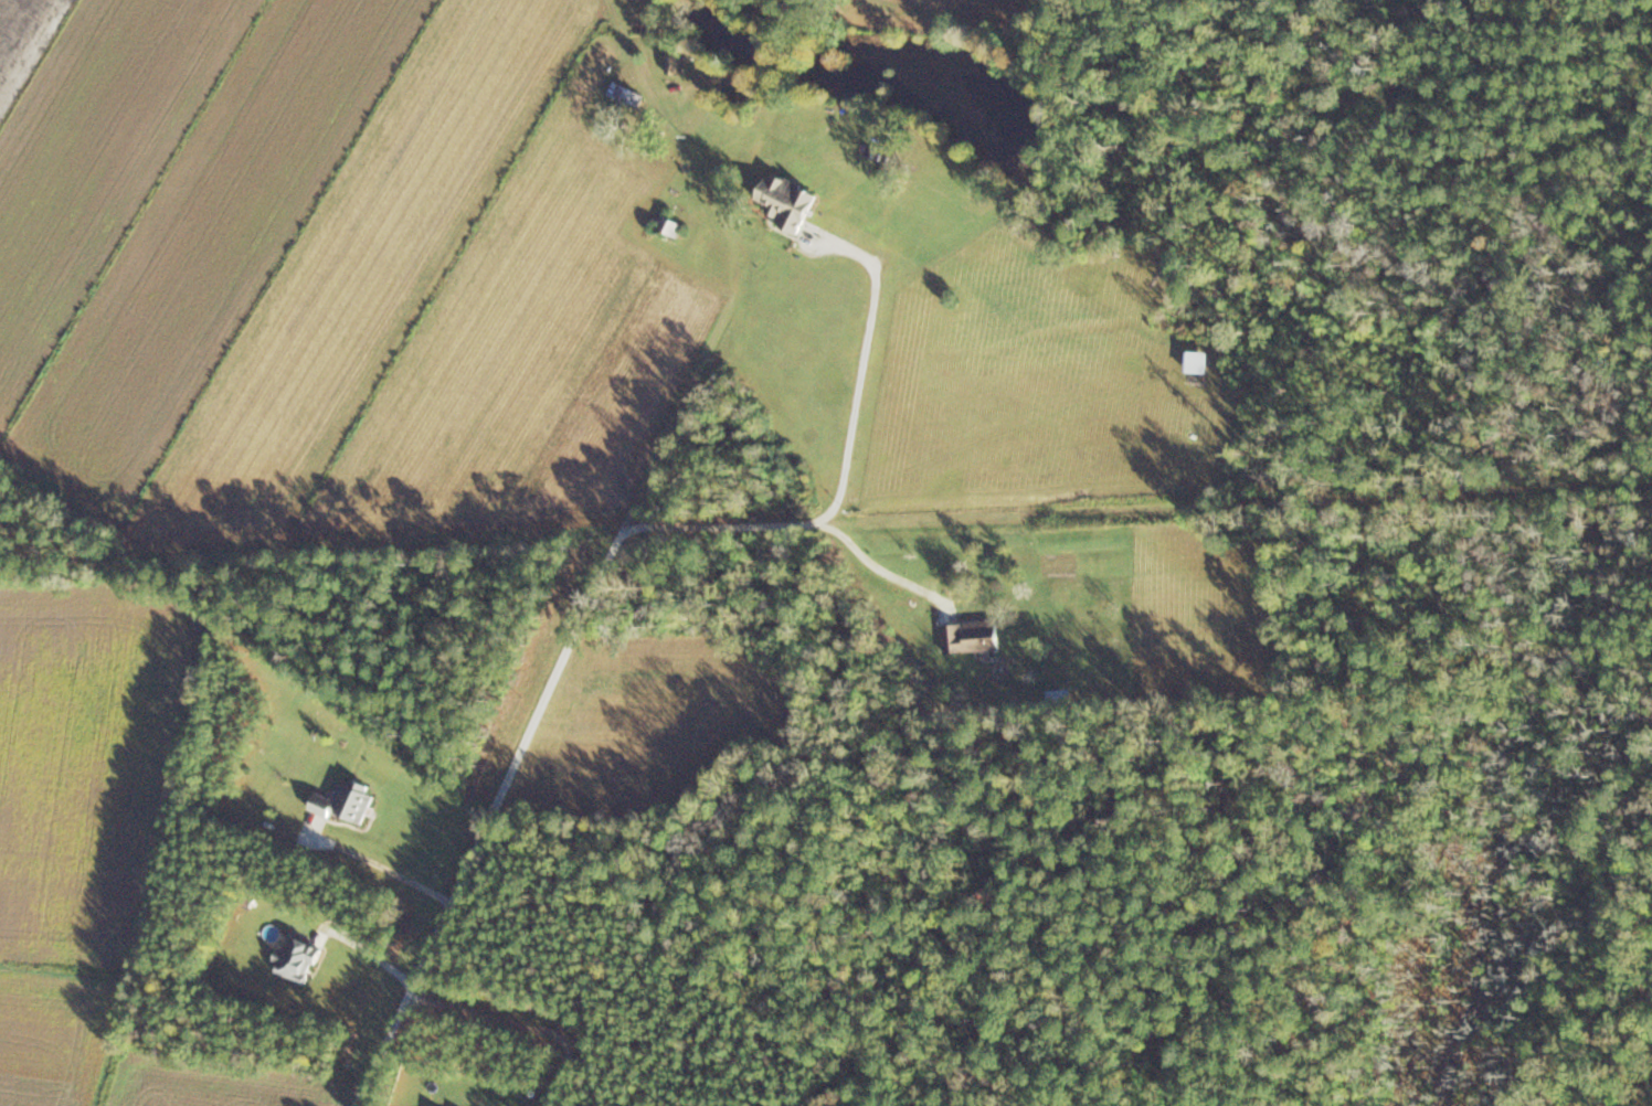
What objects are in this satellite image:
building: (675, 63)
building: (625, 93)
building: (784, 199)
building: (668, 224)
road: (597, 555)
building: (968, 635)
building: (1058, 695)
building: (343, 801)
building: (295, 956)

